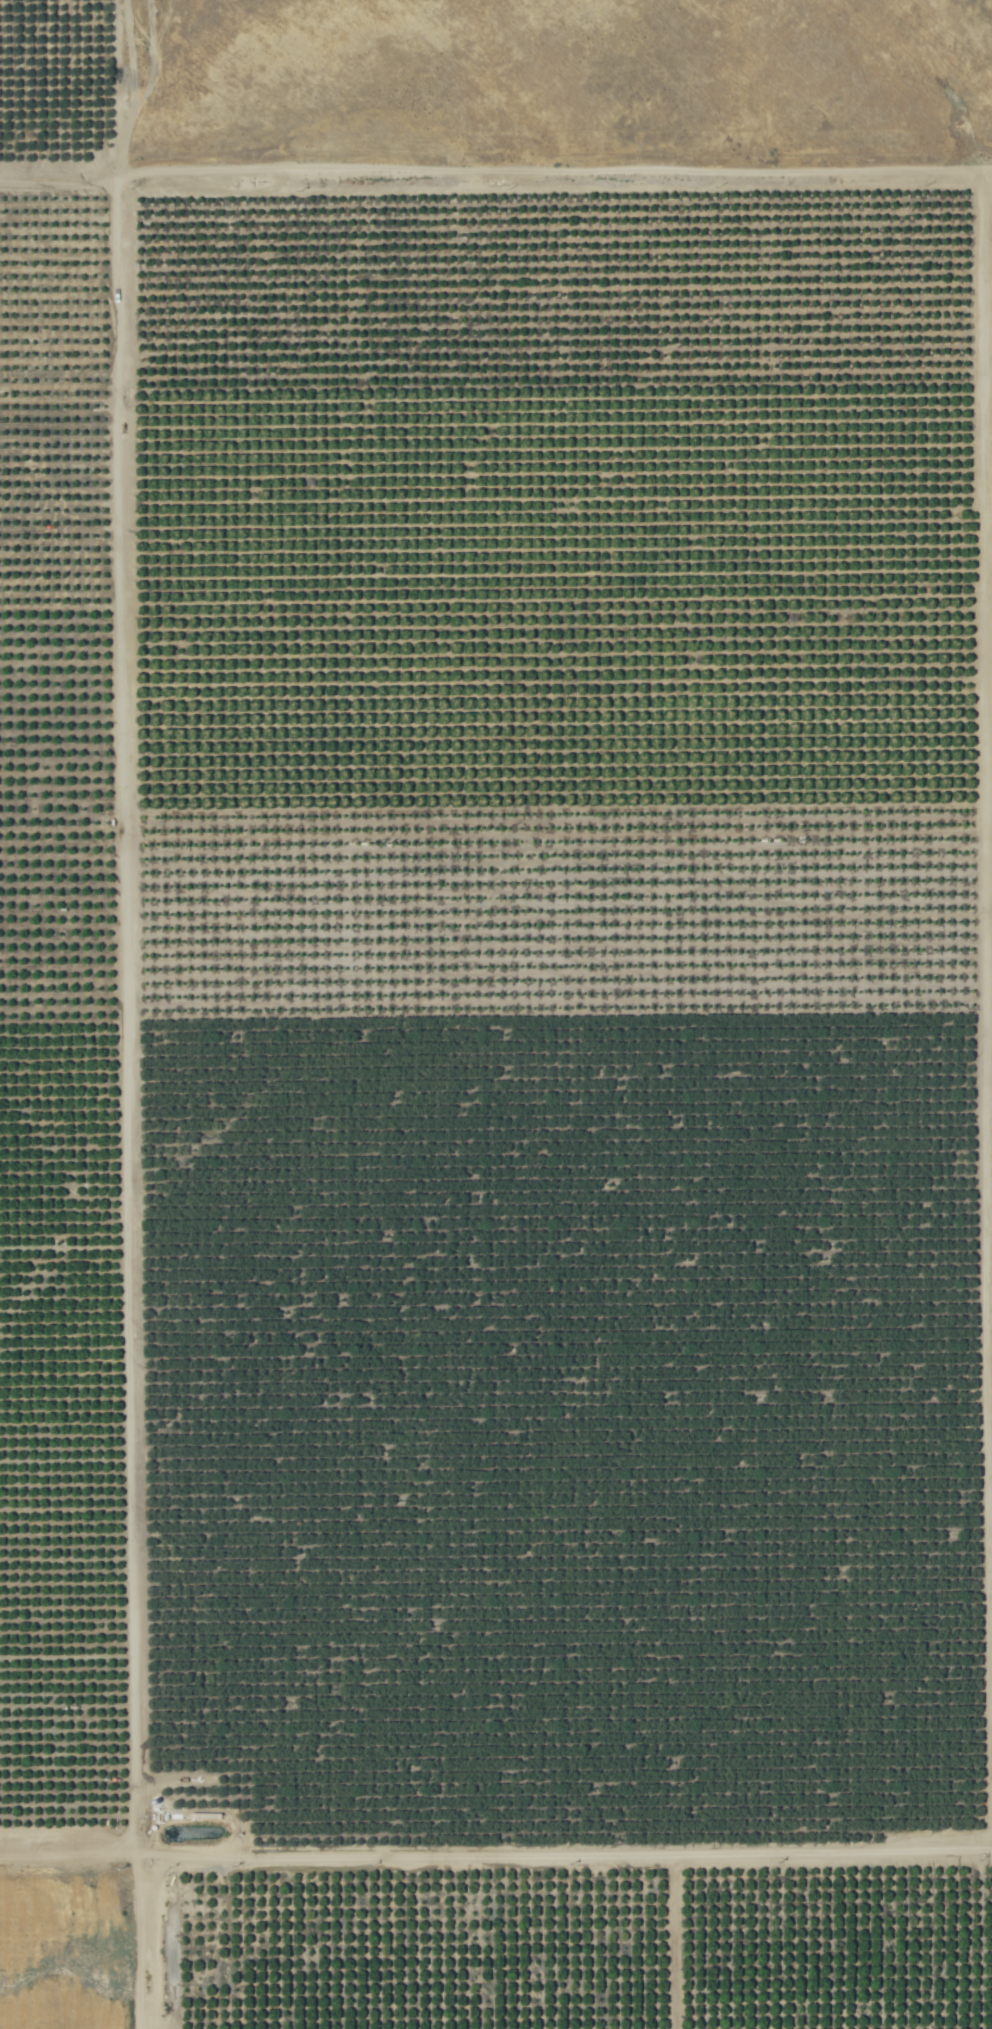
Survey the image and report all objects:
road: (562, 205)
road: (137, 1014)
road: (819, 1022)
road: (70, 1851)
road: (382, 1912)

